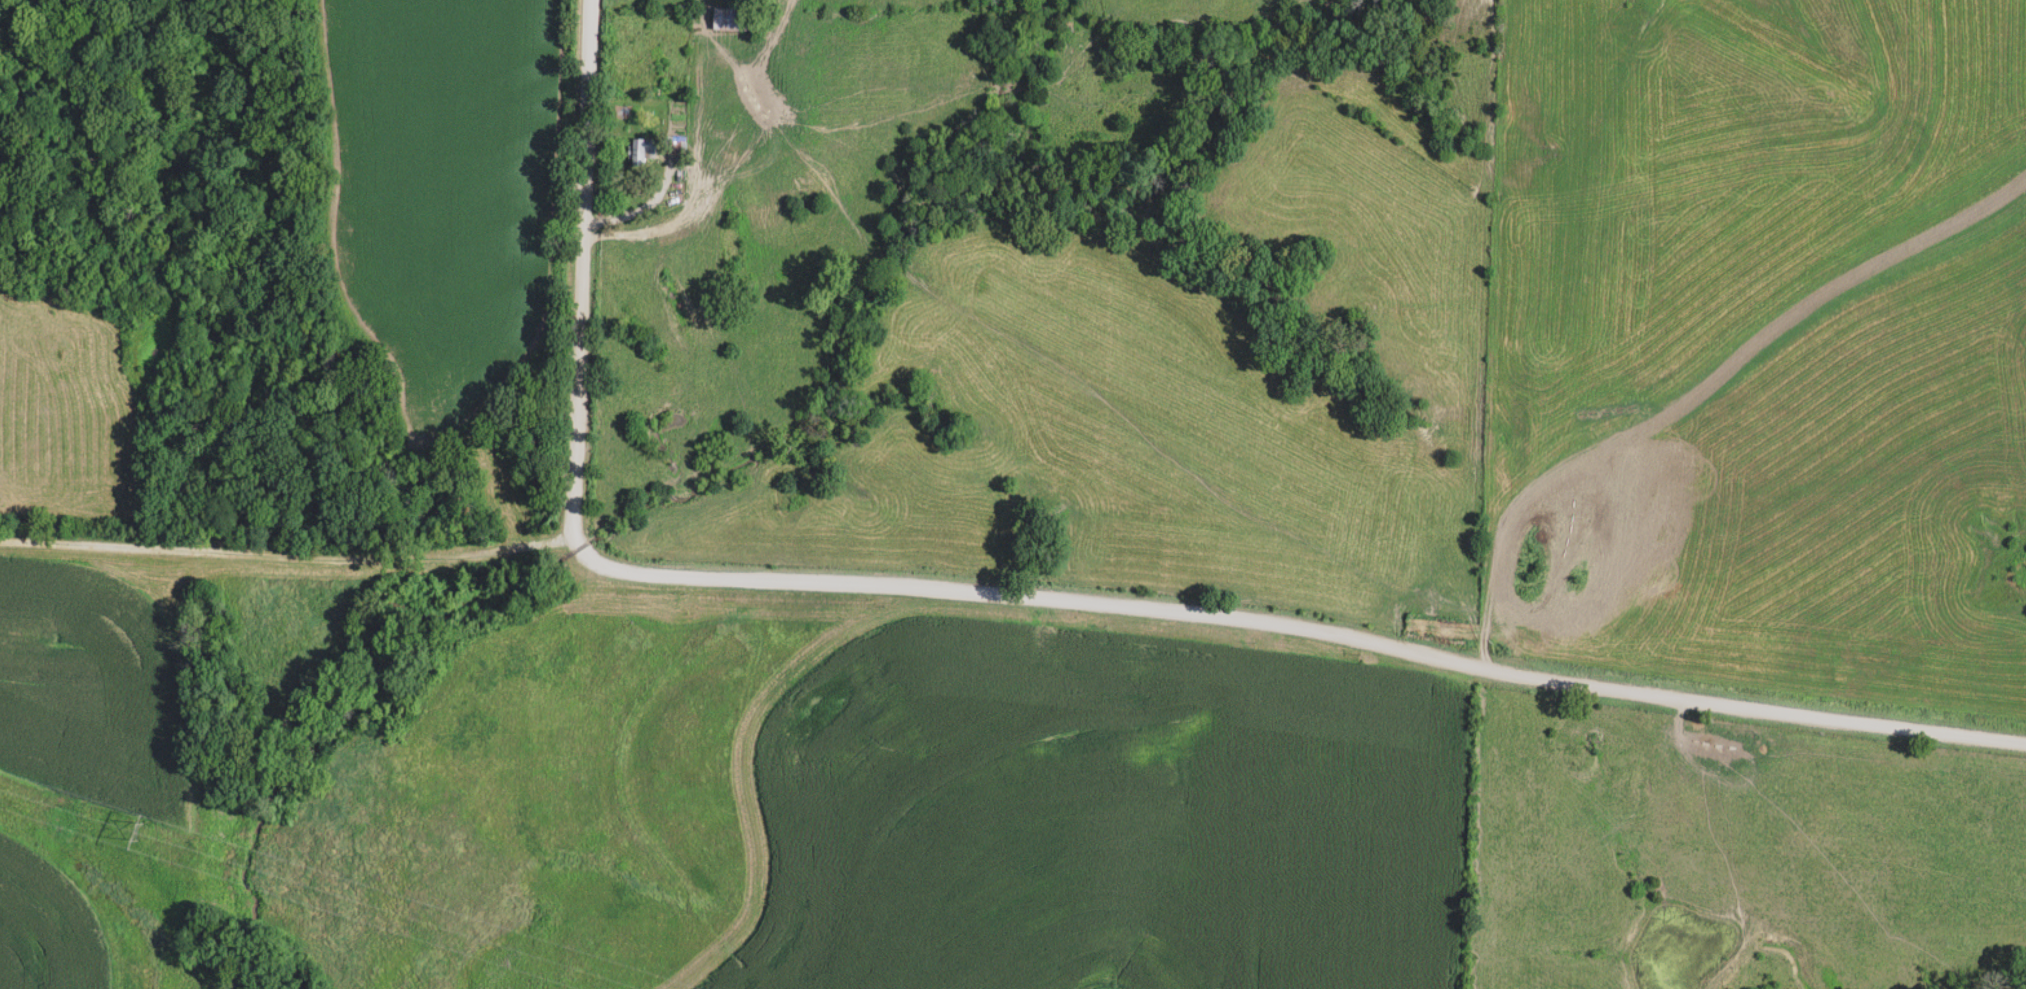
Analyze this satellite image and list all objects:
building: (735, 19)
road: (699, 113)
building: (647, 152)
road: (577, 270)
road: (1097, 348)
road: (1686, 362)
road: (285, 558)
road: (1295, 627)
power tower: (141, 832)

